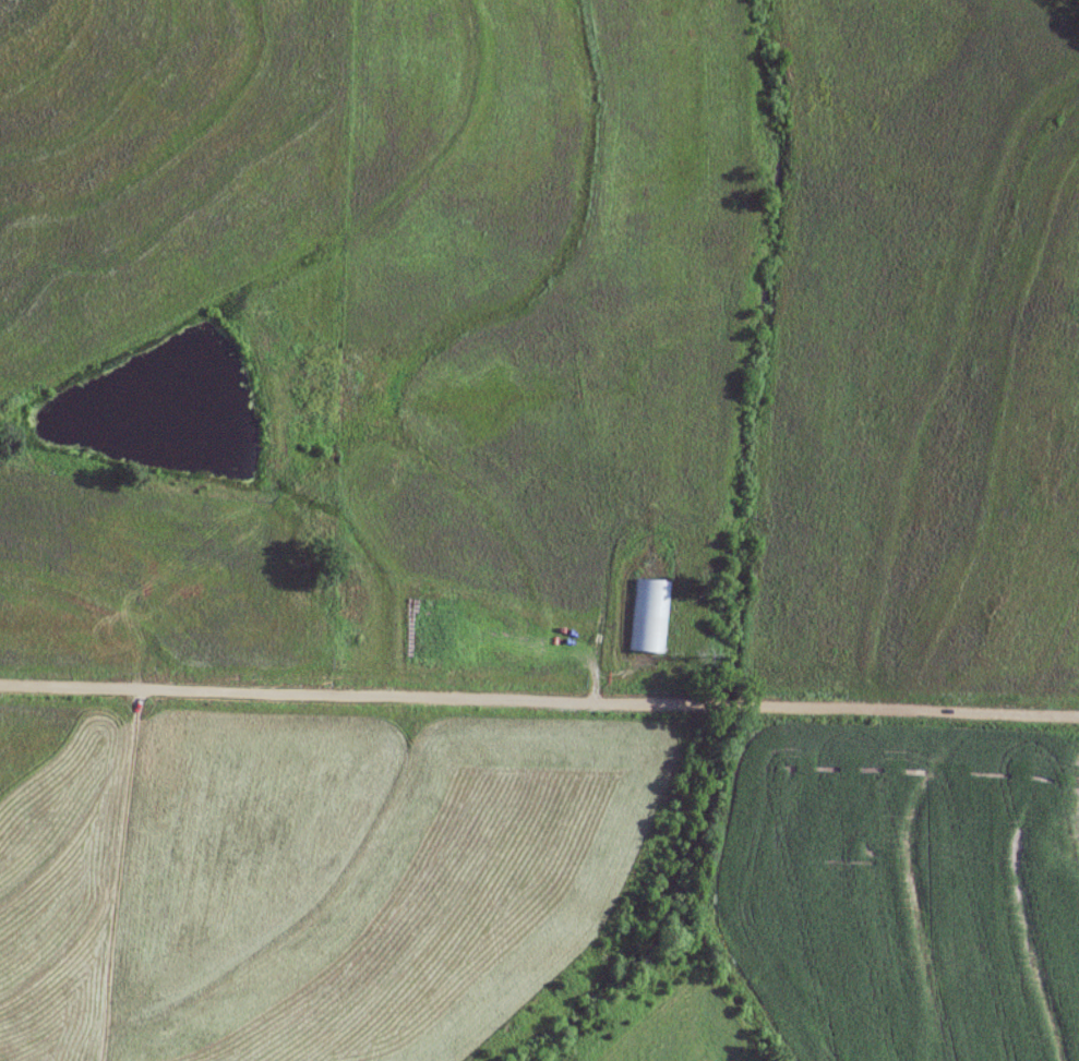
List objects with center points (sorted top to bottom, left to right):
building: (648, 616)
road: (539, 701)
road: (111, 872)

